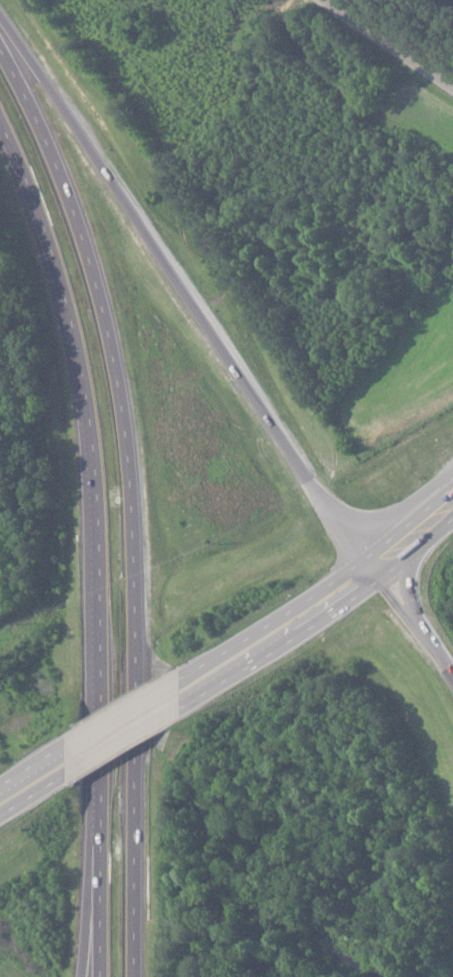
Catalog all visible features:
road: (380, 48)
road: (186, 295)
road: (129, 494)
road: (412, 529)
road: (102, 533)
road: (306, 608)
road: (413, 616)
road: (152, 708)
road: (32, 782)
road: (94, 915)

